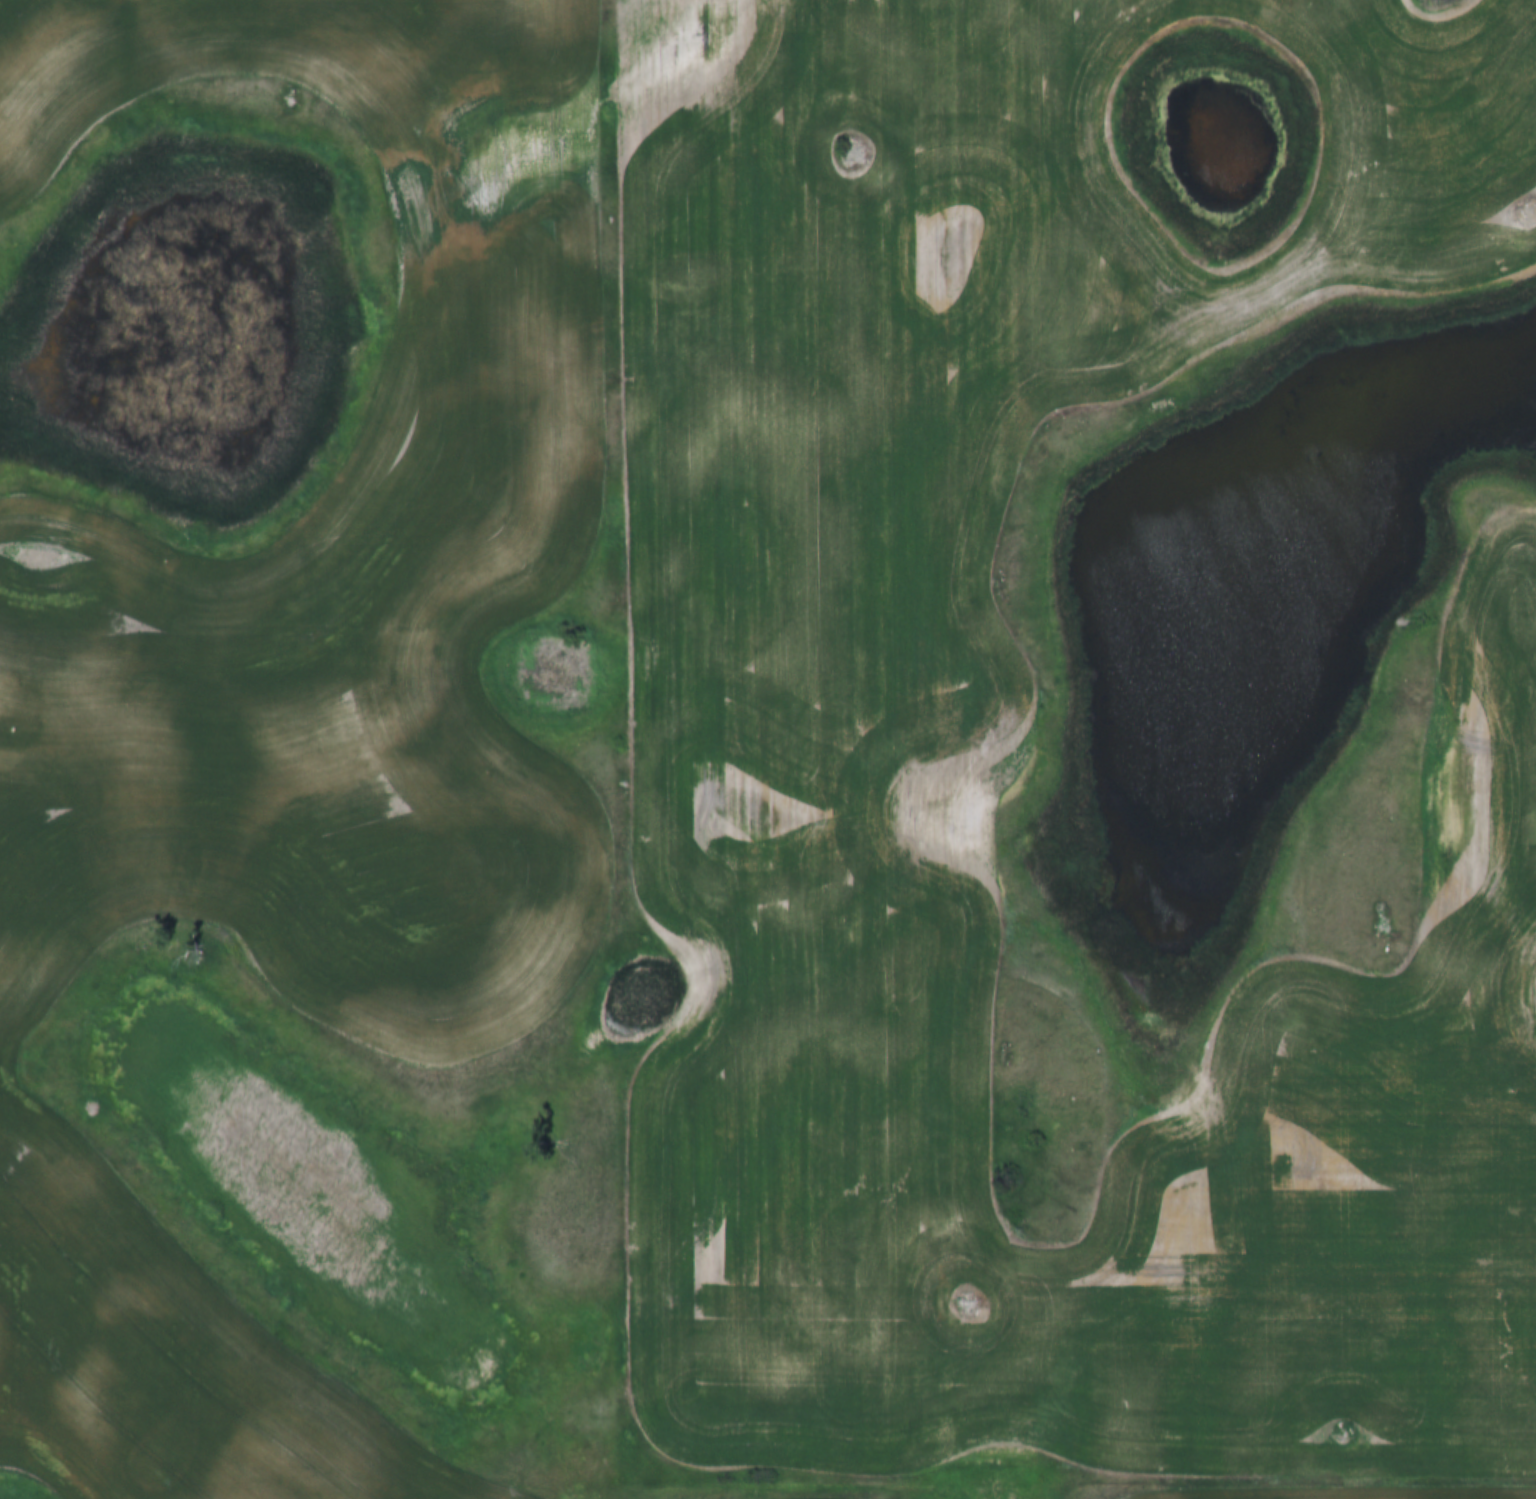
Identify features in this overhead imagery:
building: (610, 516)

